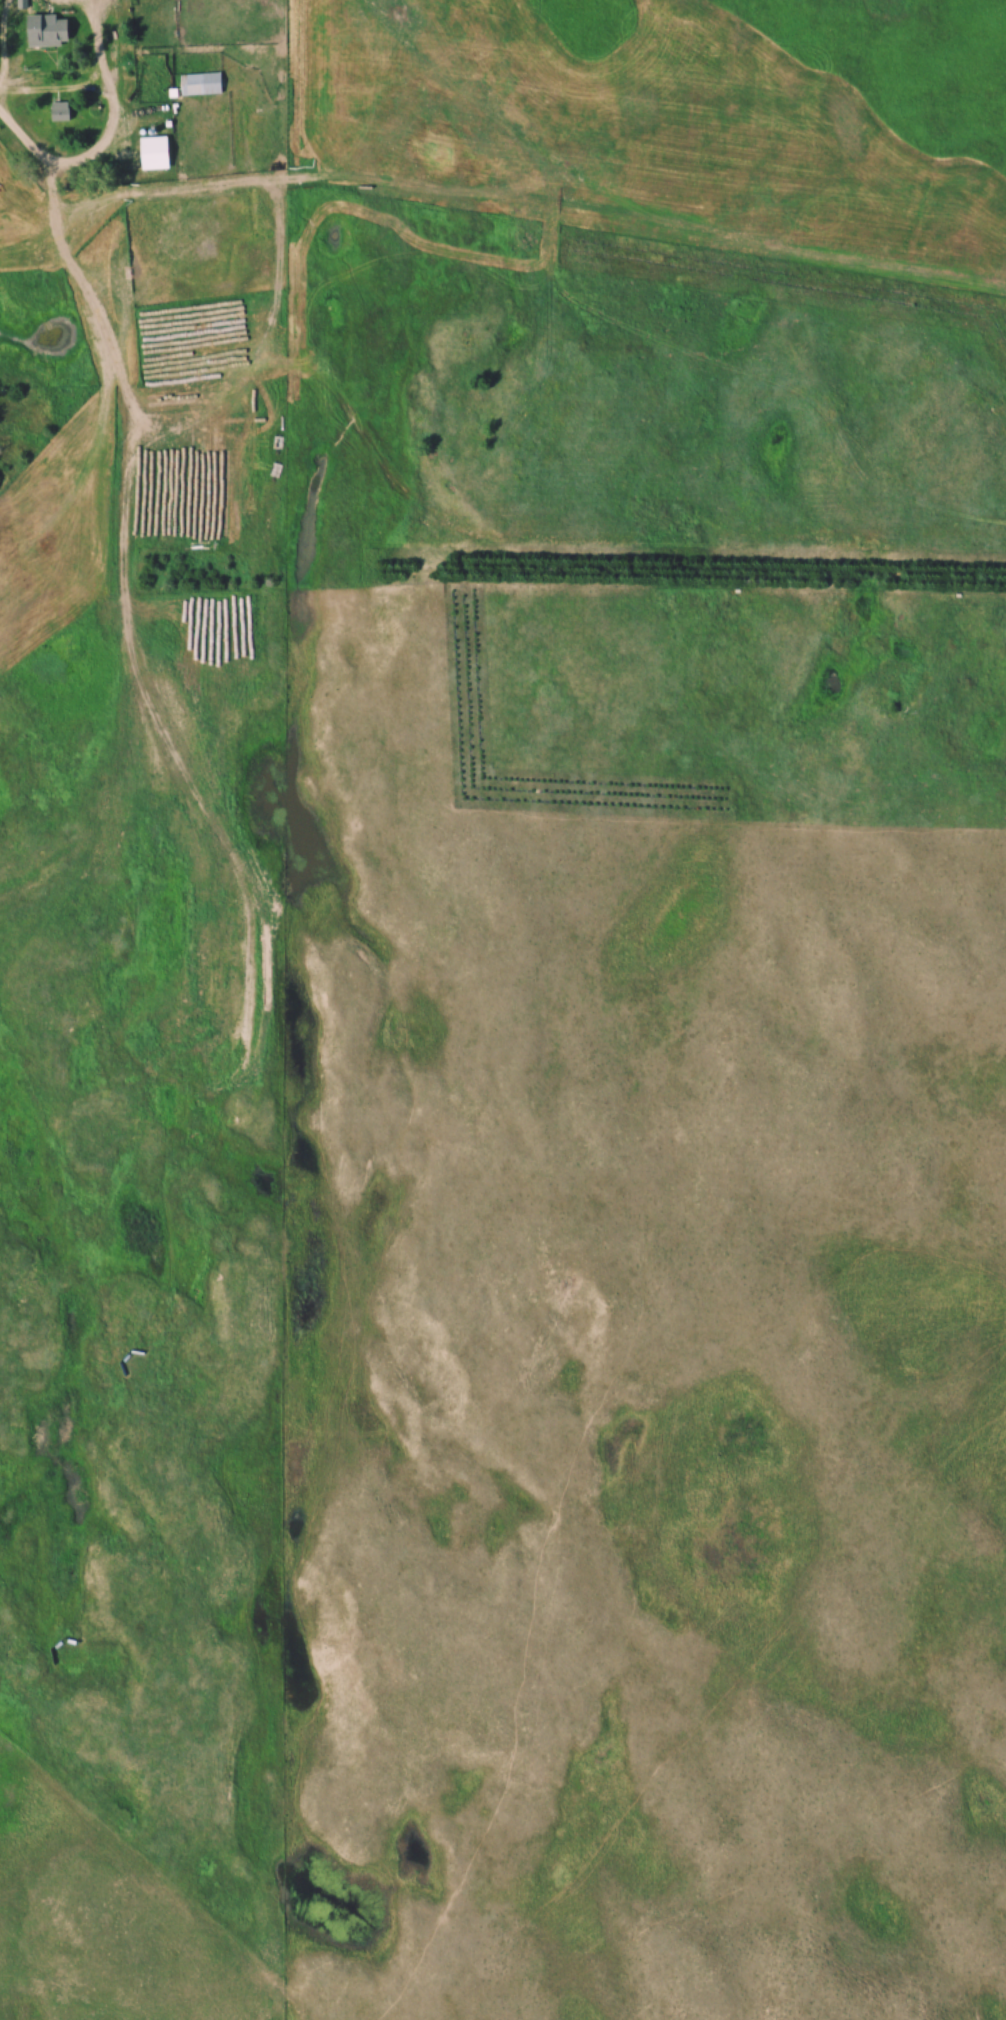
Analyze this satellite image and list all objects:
building: (47, 34)
road: (11, 80)
building: (200, 86)
building: (59, 113)

